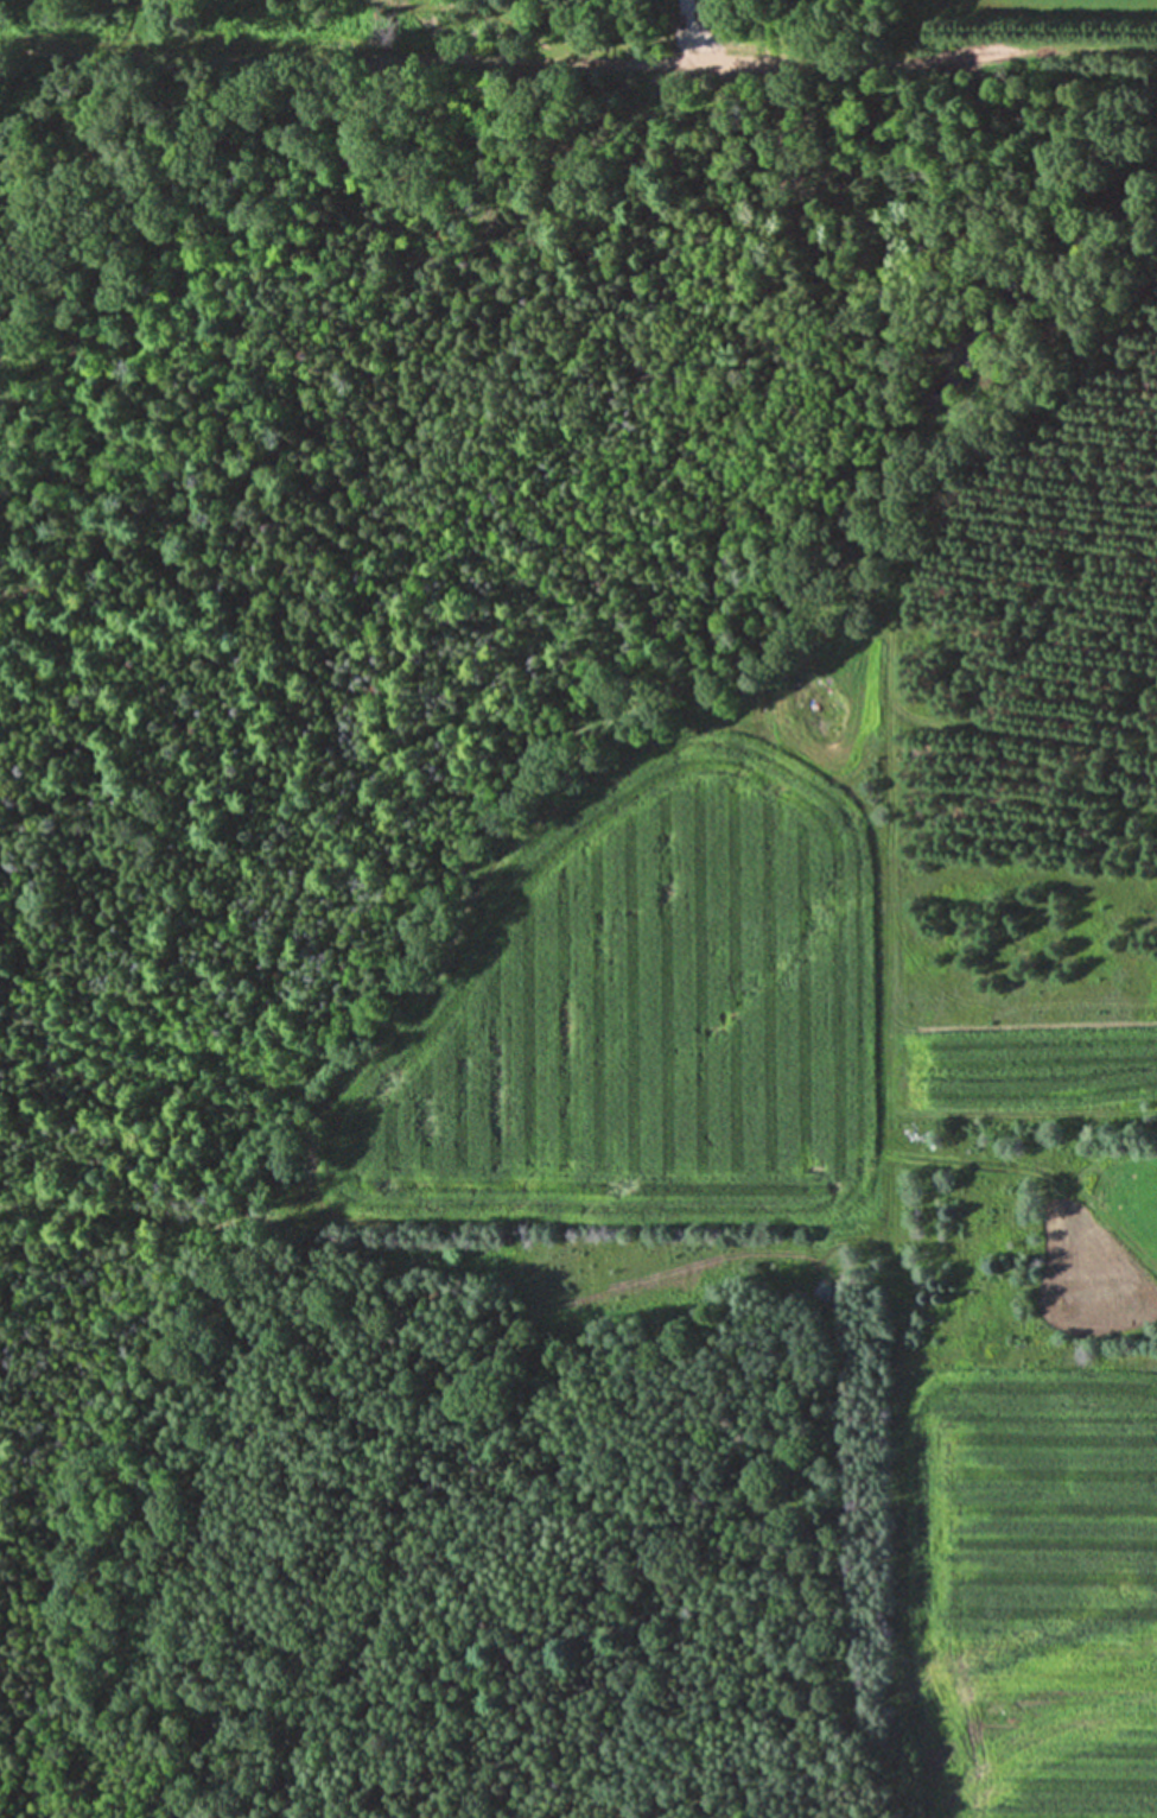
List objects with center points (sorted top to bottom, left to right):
road: (911, 59)

